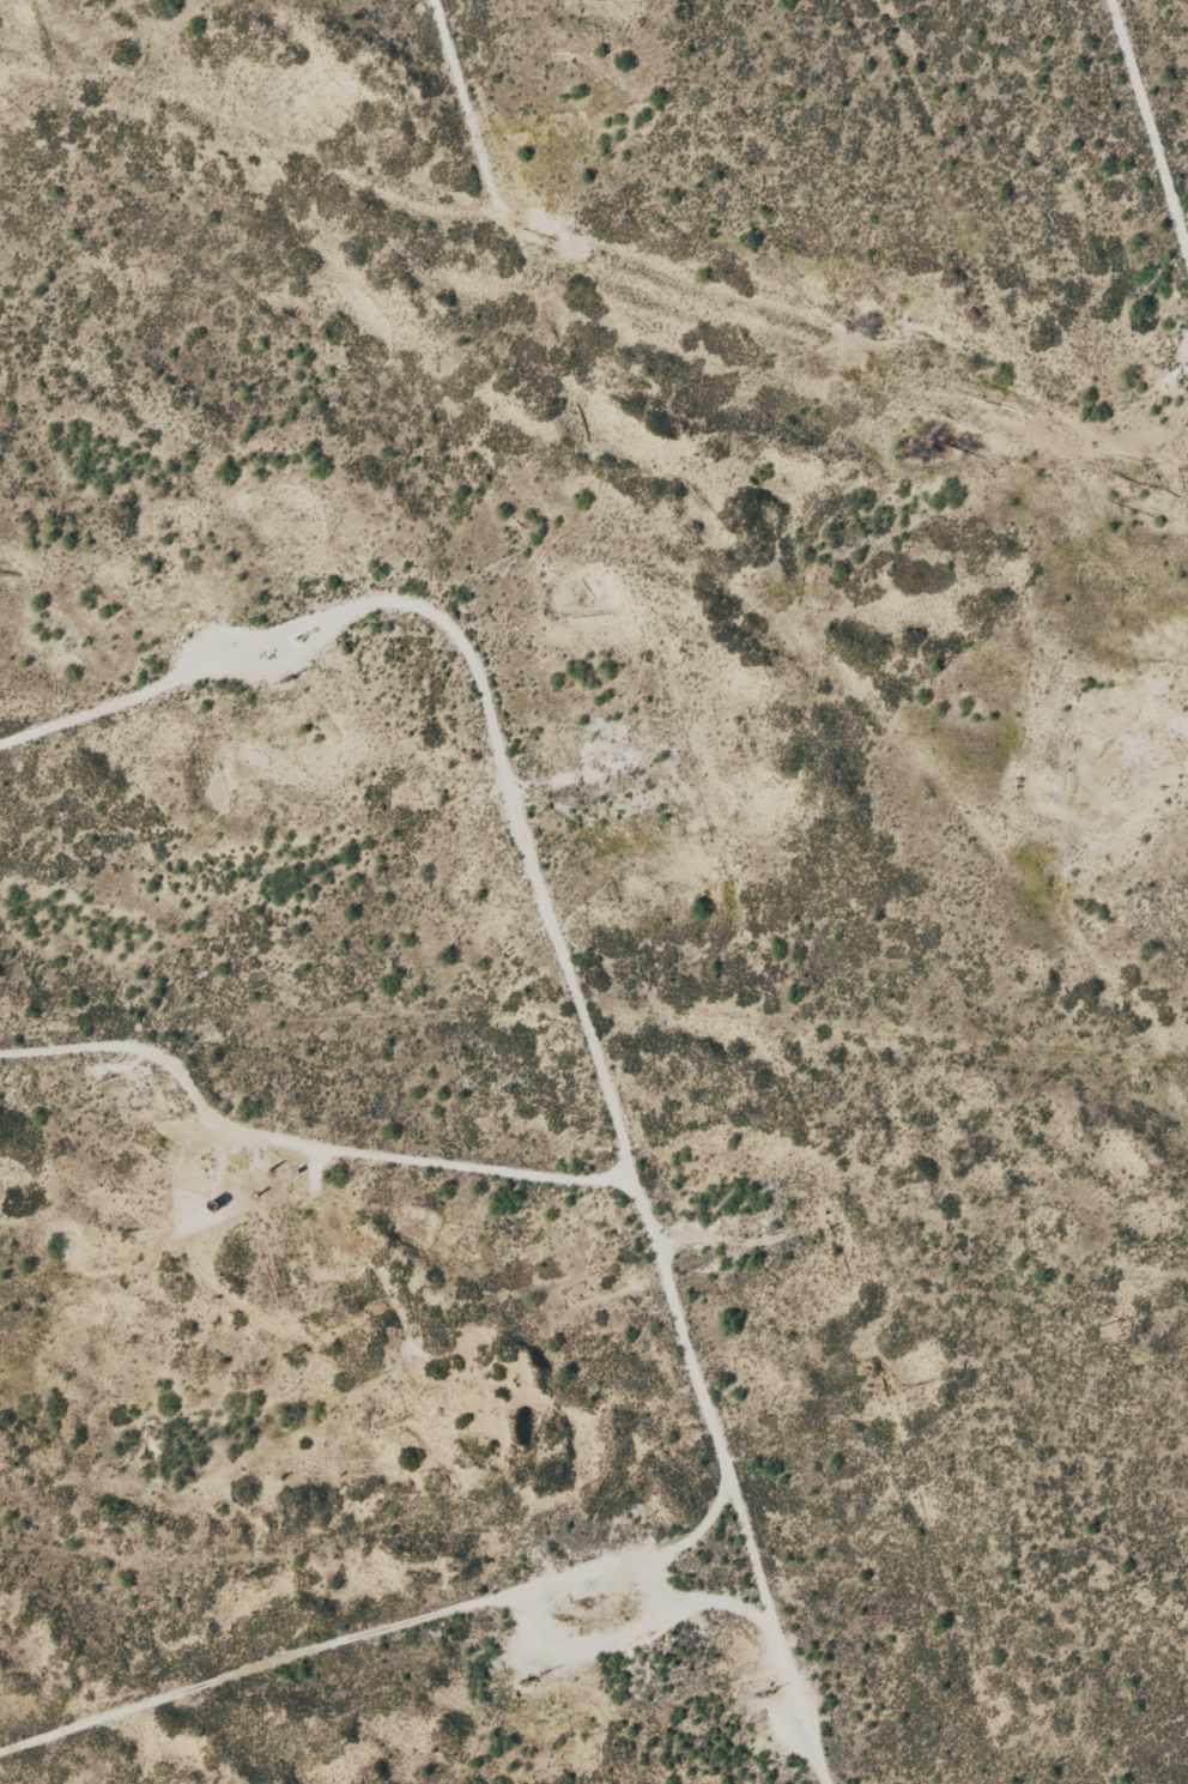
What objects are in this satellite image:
road: (1144, 102)
road: (467, 683)
road: (611, 1203)
road: (387, 1671)

